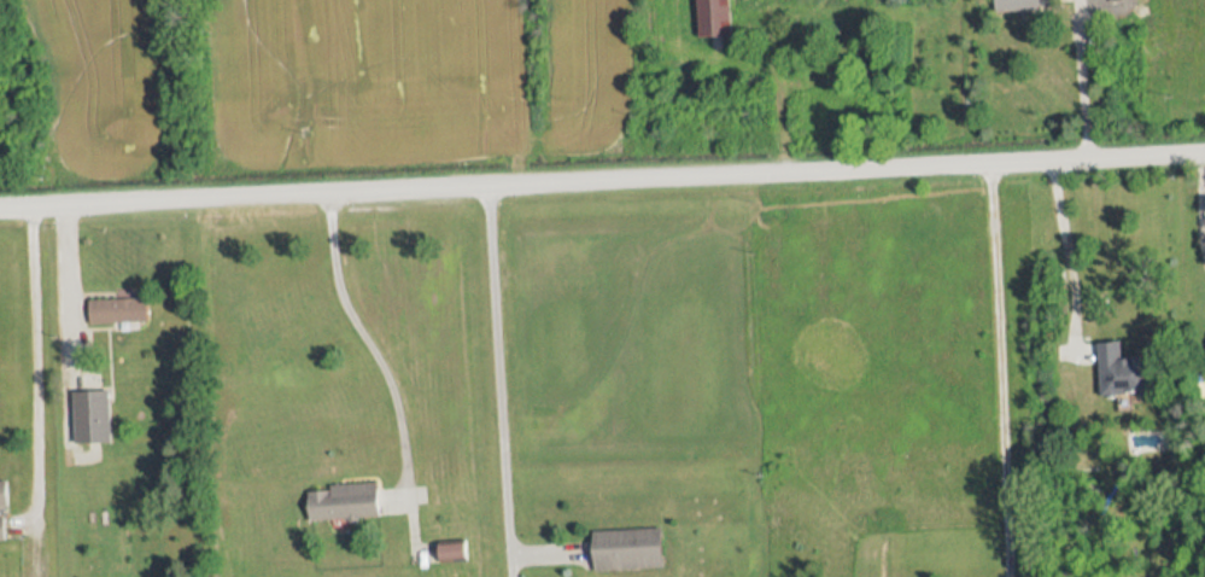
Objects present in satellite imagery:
building: (1124, 0)
building: (1026, 5)
road: (1084, 82)
road: (602, 186)
road: (1199, 205)
road: (1065, 250)
road: (74, 288)
building: (119, 311)
road: (376, 349)
road: (30, 368)
road: (999, 372)
road: (499, 384)
building: (94, 418)
building: (346, 502)
building: (4, 508)
building: (631, 549)

